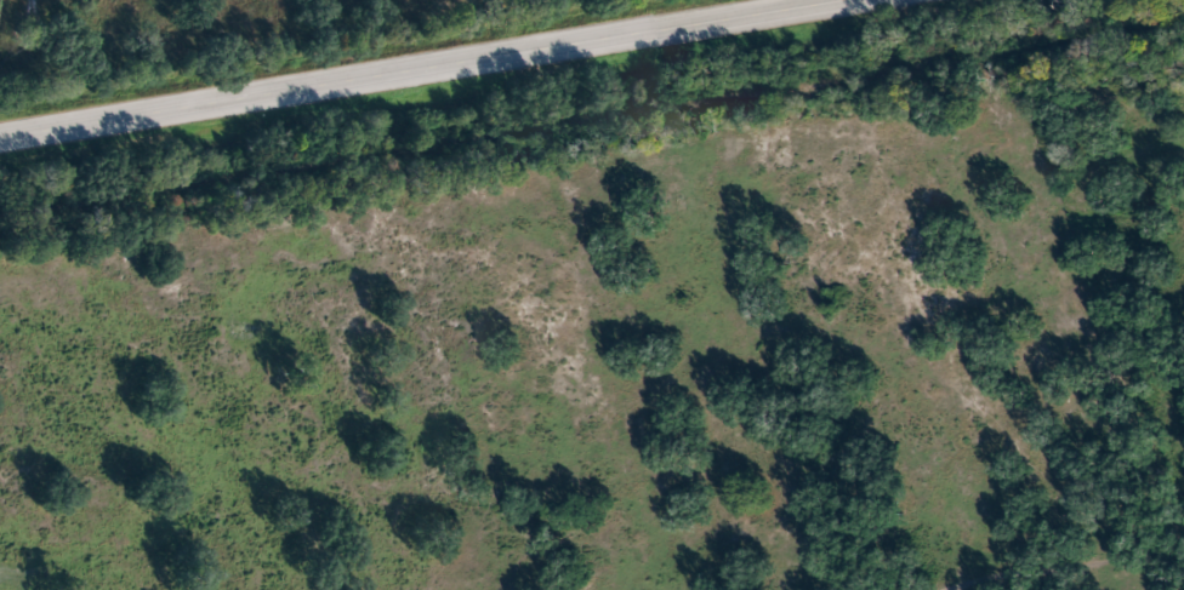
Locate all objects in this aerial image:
road: (428, 73)
railway: (592, 111)

